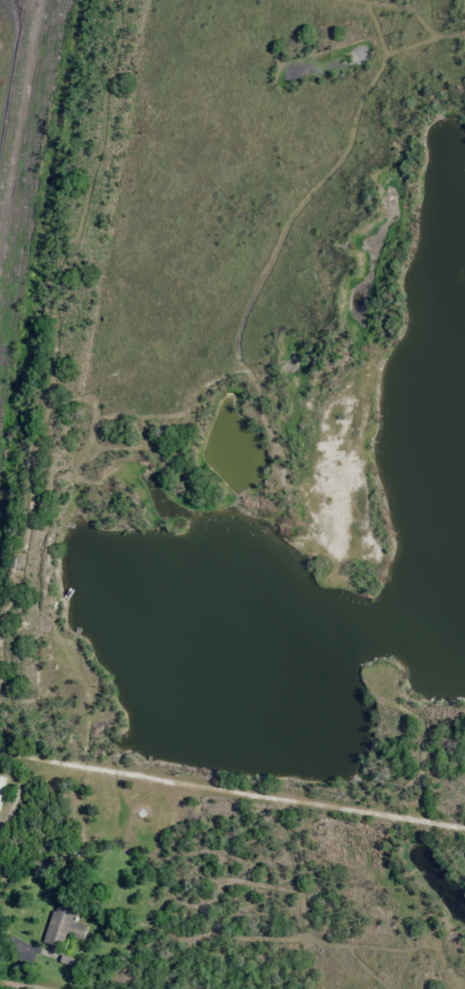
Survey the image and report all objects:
building: (1, 787)
road: (232, 788)
building: (64, 923)
road: (20, 984)

